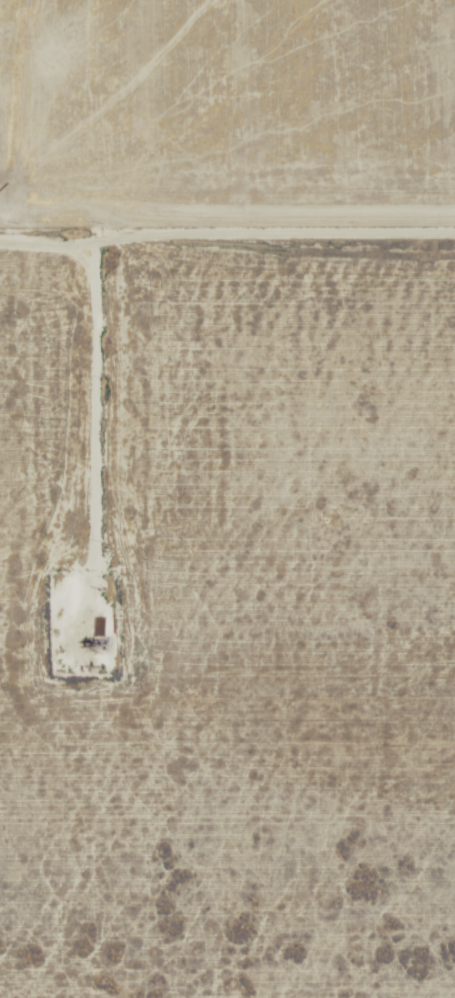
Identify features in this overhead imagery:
road: (227, 246)

